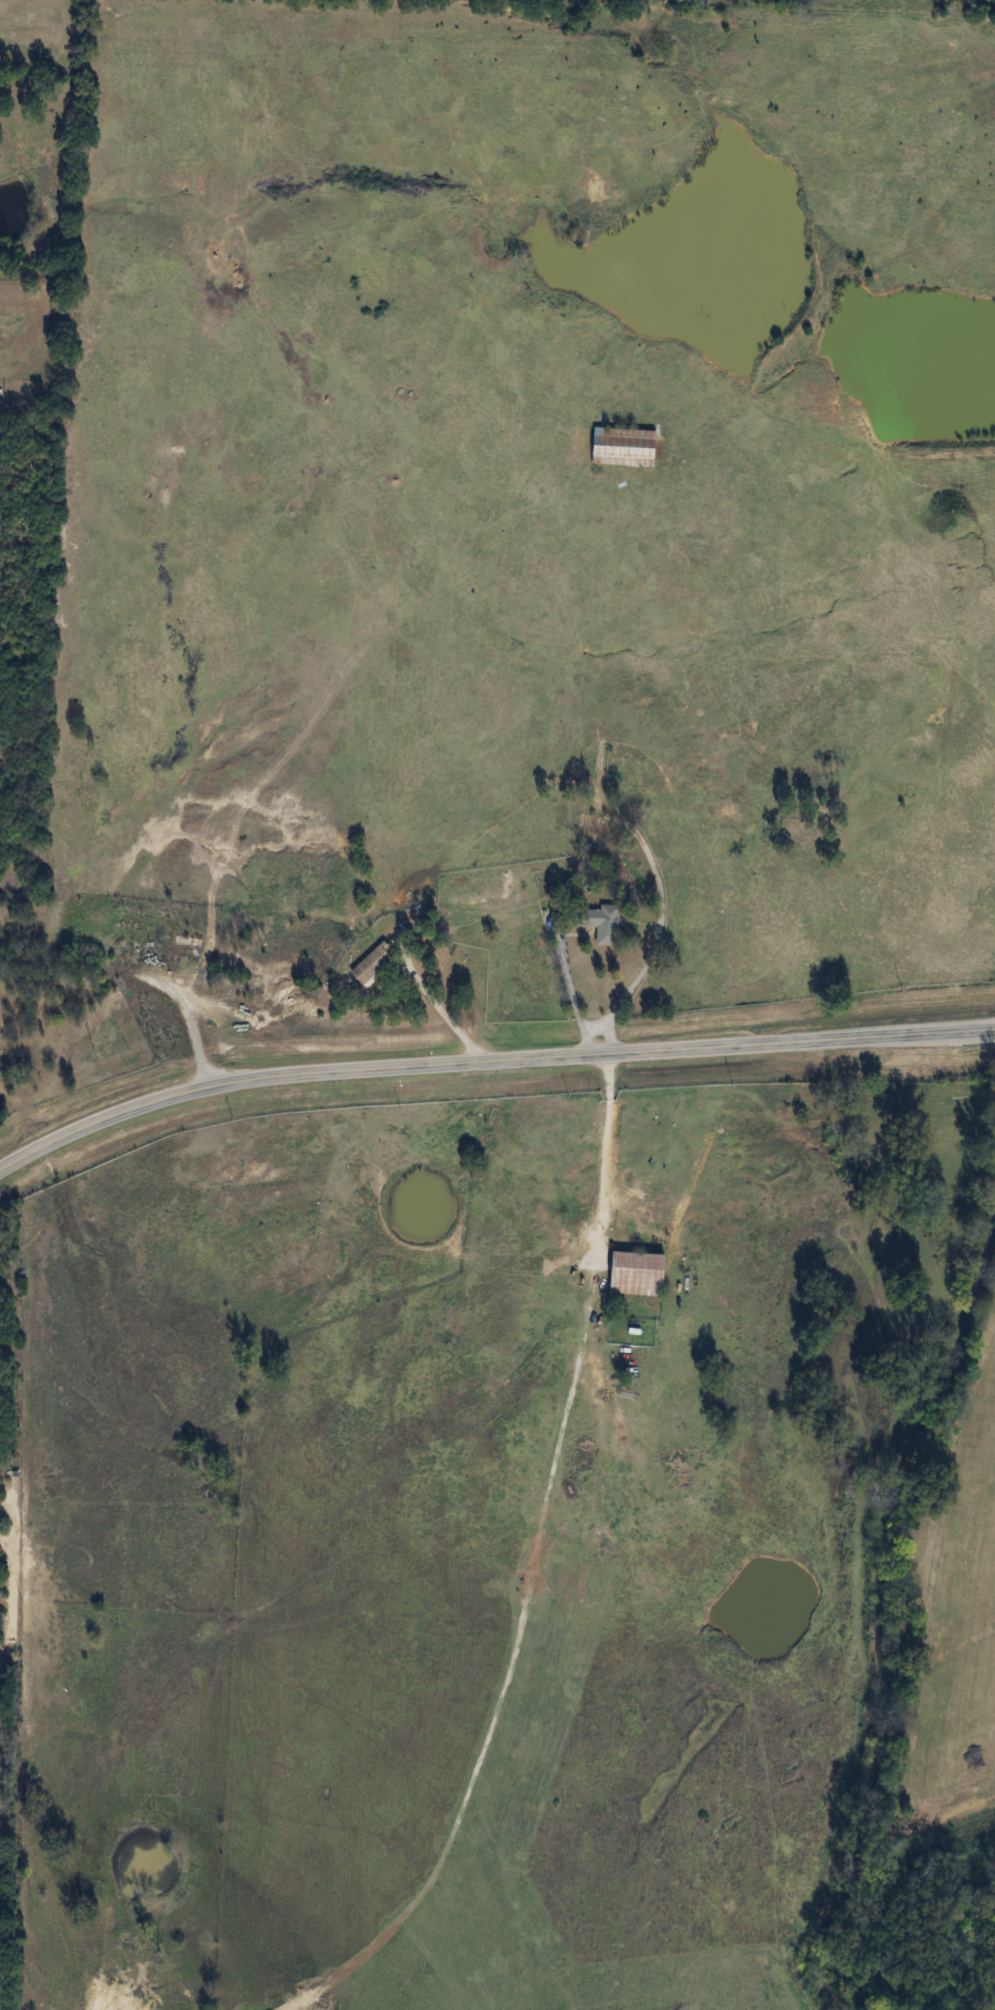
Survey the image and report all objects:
building: (622, 447)
building: (639, 764)
building: (598, 922)
road: (660, 925)
building: (370, 964)
road: (568, 985)
road: (488, 1060)
road: (606, 1154)
building: (634, 1273)

